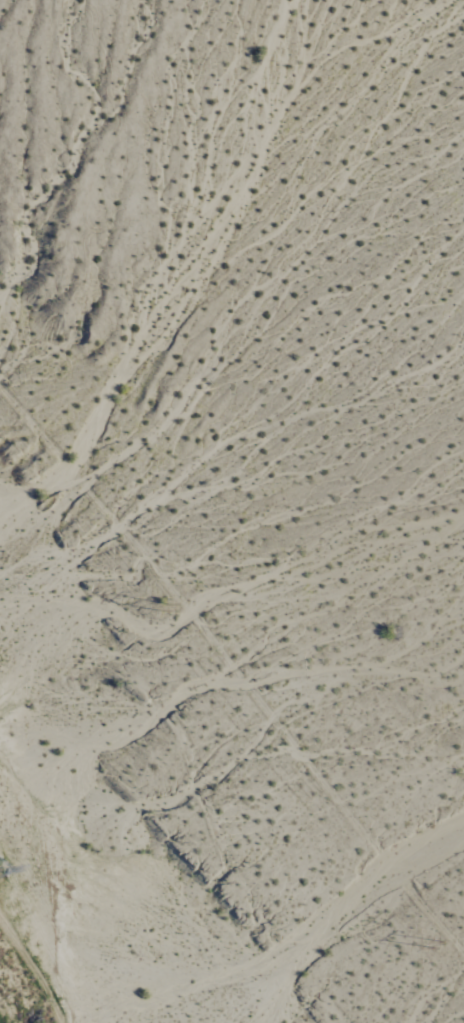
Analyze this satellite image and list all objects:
power tower: (169, 607)
power tower: (441, 947)

